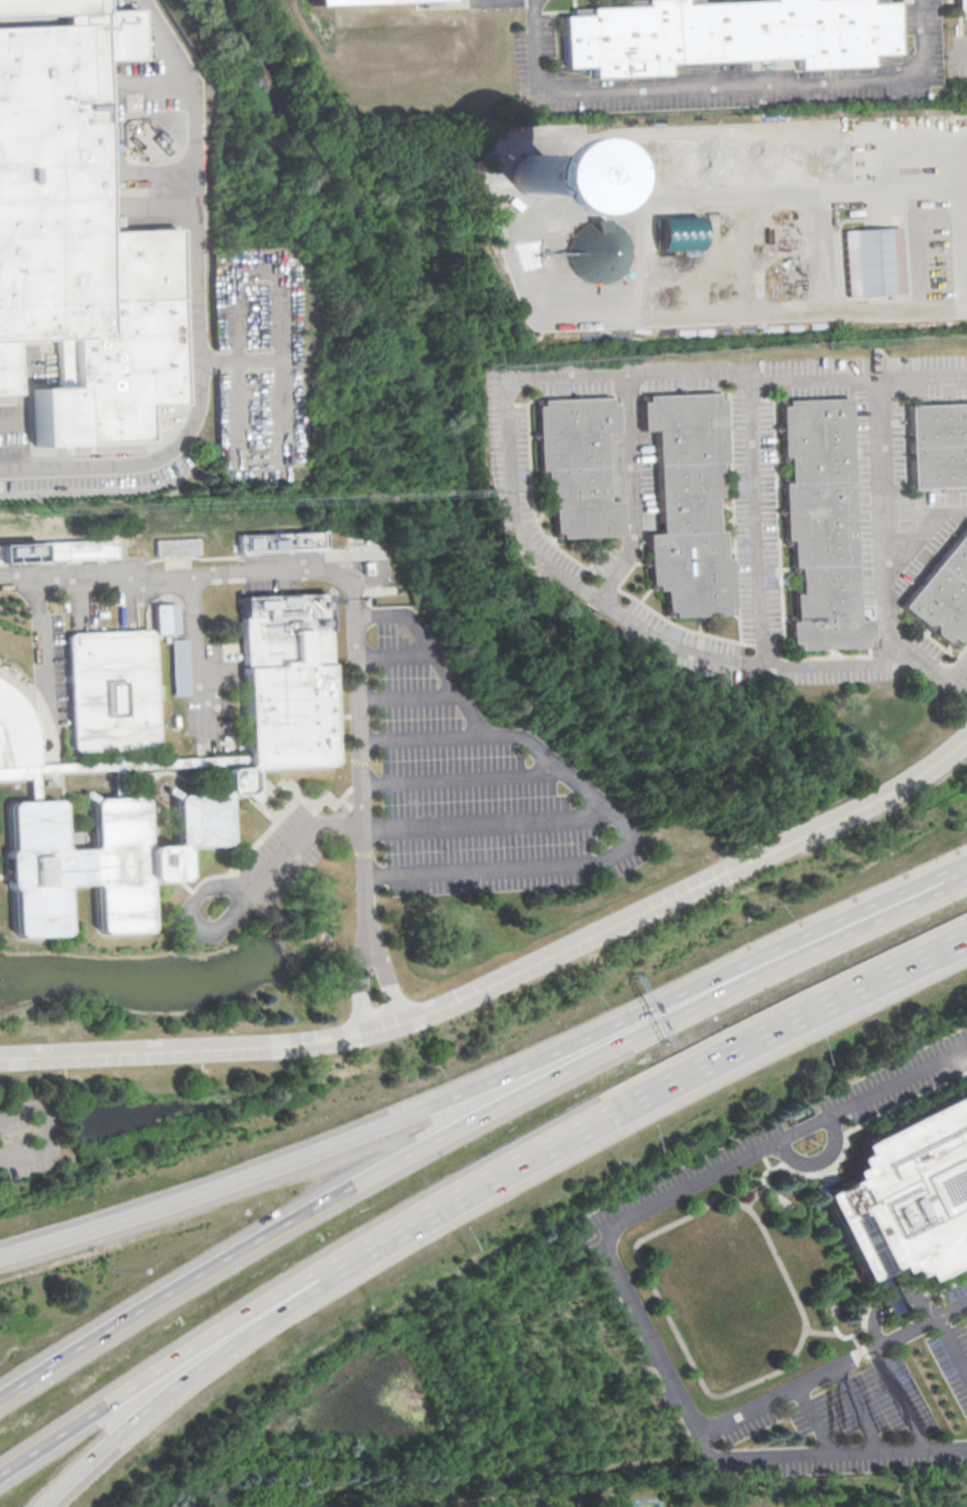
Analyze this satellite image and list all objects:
building: (356, 1)
building: (962, 5)
building: (730, 35)
road: (729, 86)
road: (109, 127)
building: (530, 174)
water tower: (530, 174)
road: (780, 192)
road: (962, 219)
building: (77, 233)
building: (676, 233)
building: (597, 251)
building: (875, 264)
road: (252, 266)
road: (200, 312)
road: (22, 397)
road: (285, 438)
building: (942, 447)
building: (584, 466)
road: (513, 477)
road: (637, 490)
building: (697, 506)
road: (929, 512)
road: (892, 519)
road: (763, 524)
building: (829, 525)
building: (279, 541)
building: (176, 546)
building: (57, 550)
road: (377, 555)
building: (365, 566)
road: (186, 574)
building: (947, 598)
building: (165, 618)
road: (41, 637)
road: (392, 656)
road: (195, 657)
building: (180, 666)
road: (958, 671)
road: (405, 696)
road: (358, 714)
road: (344, 715)
road: (420, 739)
building: (155, 760)
road: (459, 778)
parking lot: (471, 785)
road: (592, 798)
road: (488, 822)
parking lot: (280, 859)
road: (2, 875)
road: (365, 880)
road: (187, 886)
road: (242, 895)
road: (386, 976)
road: (506, 976)
road: (360, 981)
road: (491, 1080)
road: (663, 1088)
road: (474, 1119)
parking lot: (796, 1126)
road: (44, 1131)
building: (902, 1194)
road: (756, 1196)
road: (621, 1279)
road: (823, 1331)
road: (953, 1343)
road: (798, 1348)
road: (180, 1356)
road: (833, 1368)
road: (196, 1370)
road: (902, 1399)
parking lot: (857, 1409)
road: (860, 1410)
road: (816, 1421)

